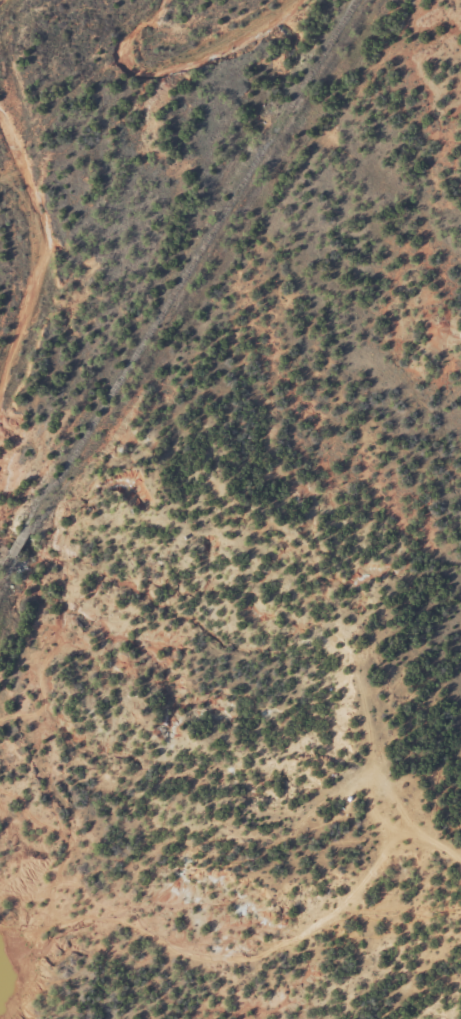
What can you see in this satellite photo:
railway: (312, 62)
railway: (135, 345)

